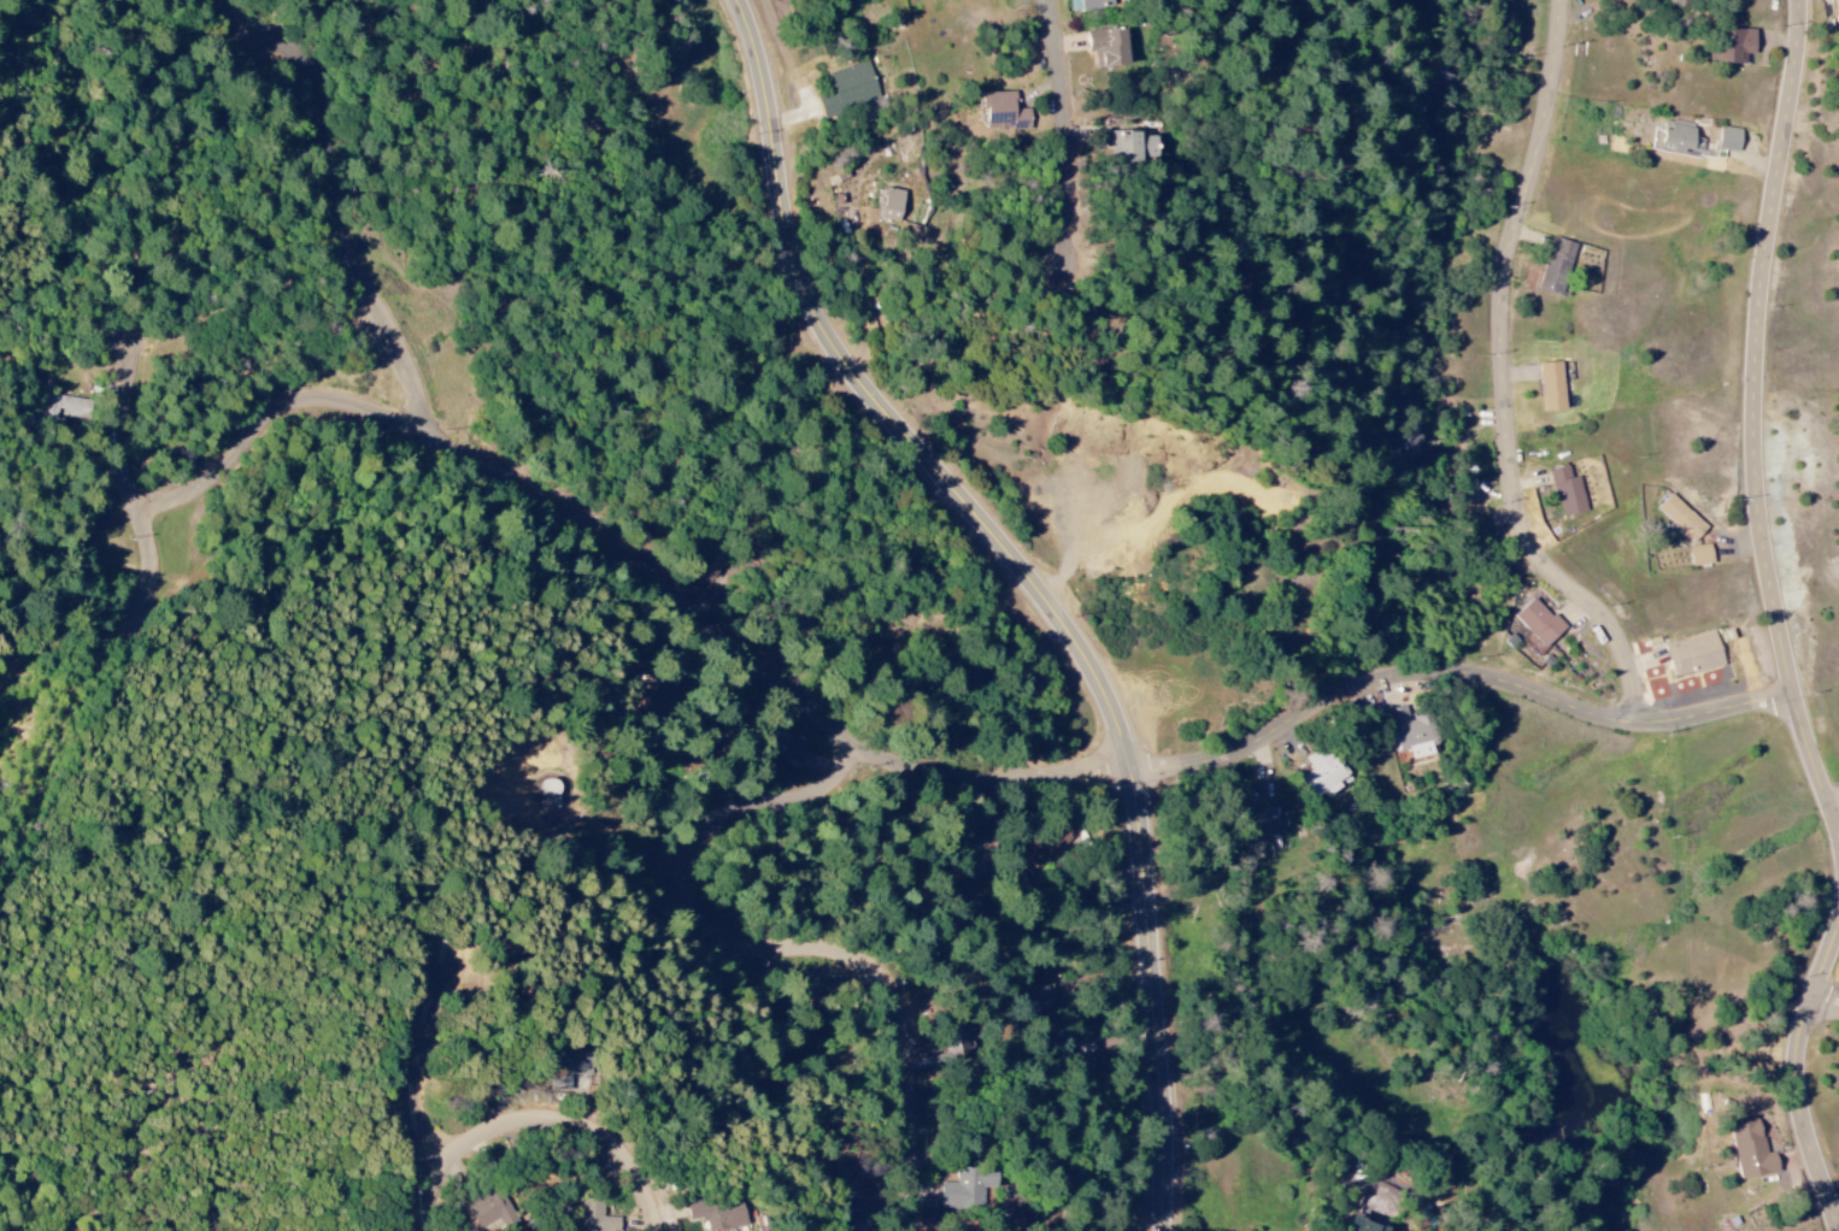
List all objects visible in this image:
building: (1094, 5)
building: (1837, 11)
building: (1734, 47)
building: (1109, 48)
building: (847, 89)
building: (1003, 113)
road: (1076, 137)
building: (1679, 139)
building: (1728, 140)
building: (1130, 146)
building: (892, 205)
road: (351, 206)
building: (1557, 266)
road: (1508, 377)
building: (1551, 385)
building: (66, 408)
road: (136, 411)
road: (1757, 411)
building: (1405, 441)
building: (1568, 493)
building: (1681, 518)
building: (1700, 555)
building: (706, 575)
road: (1044, 584)
road: (61, 605)
building: (1539, 623)
building: (1693, 655)
building: (1410, 732)
building: (780, 753)
road: (919, 765)
building: (1322, 773)
road: (1838, 805)
building: (1263, 823)
building: (971, 844)
building: (1029, 853)
road: (791, 947)
road: (1829, 999)
building: (1023, 1001)
building: (1070, 1053)
road: (430, 1066)
building: (570, 1067)
road: (1800, 1083)
road: (550, 1115)
building: (1751, 1149)
building: (965, 1188)
building: (487, 1212)
building: (591, 1214)
building: (718, 1214)
building: (848, 1217)
building: (613, 1224)
building: (1367, 1225)

